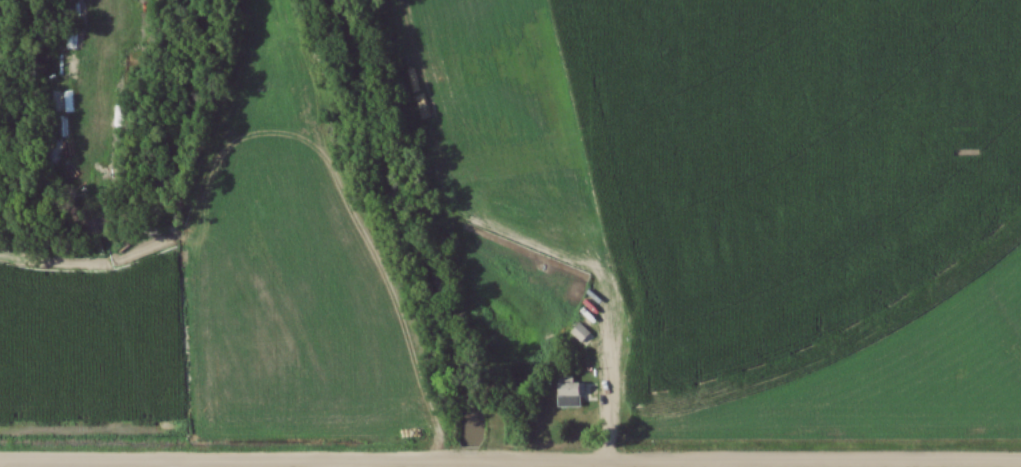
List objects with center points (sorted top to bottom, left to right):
building: (61, 0)
building: (70, 16)
building: (294, 67)
building: (60, 78)
building: (261, 81)
building: (54, 101)
building: (115, 116)
building: (59, 154)
road: (381, 274)
building: (567, 395)
road: (472, 461)
road: (753, 461)
road: (230, 463)

